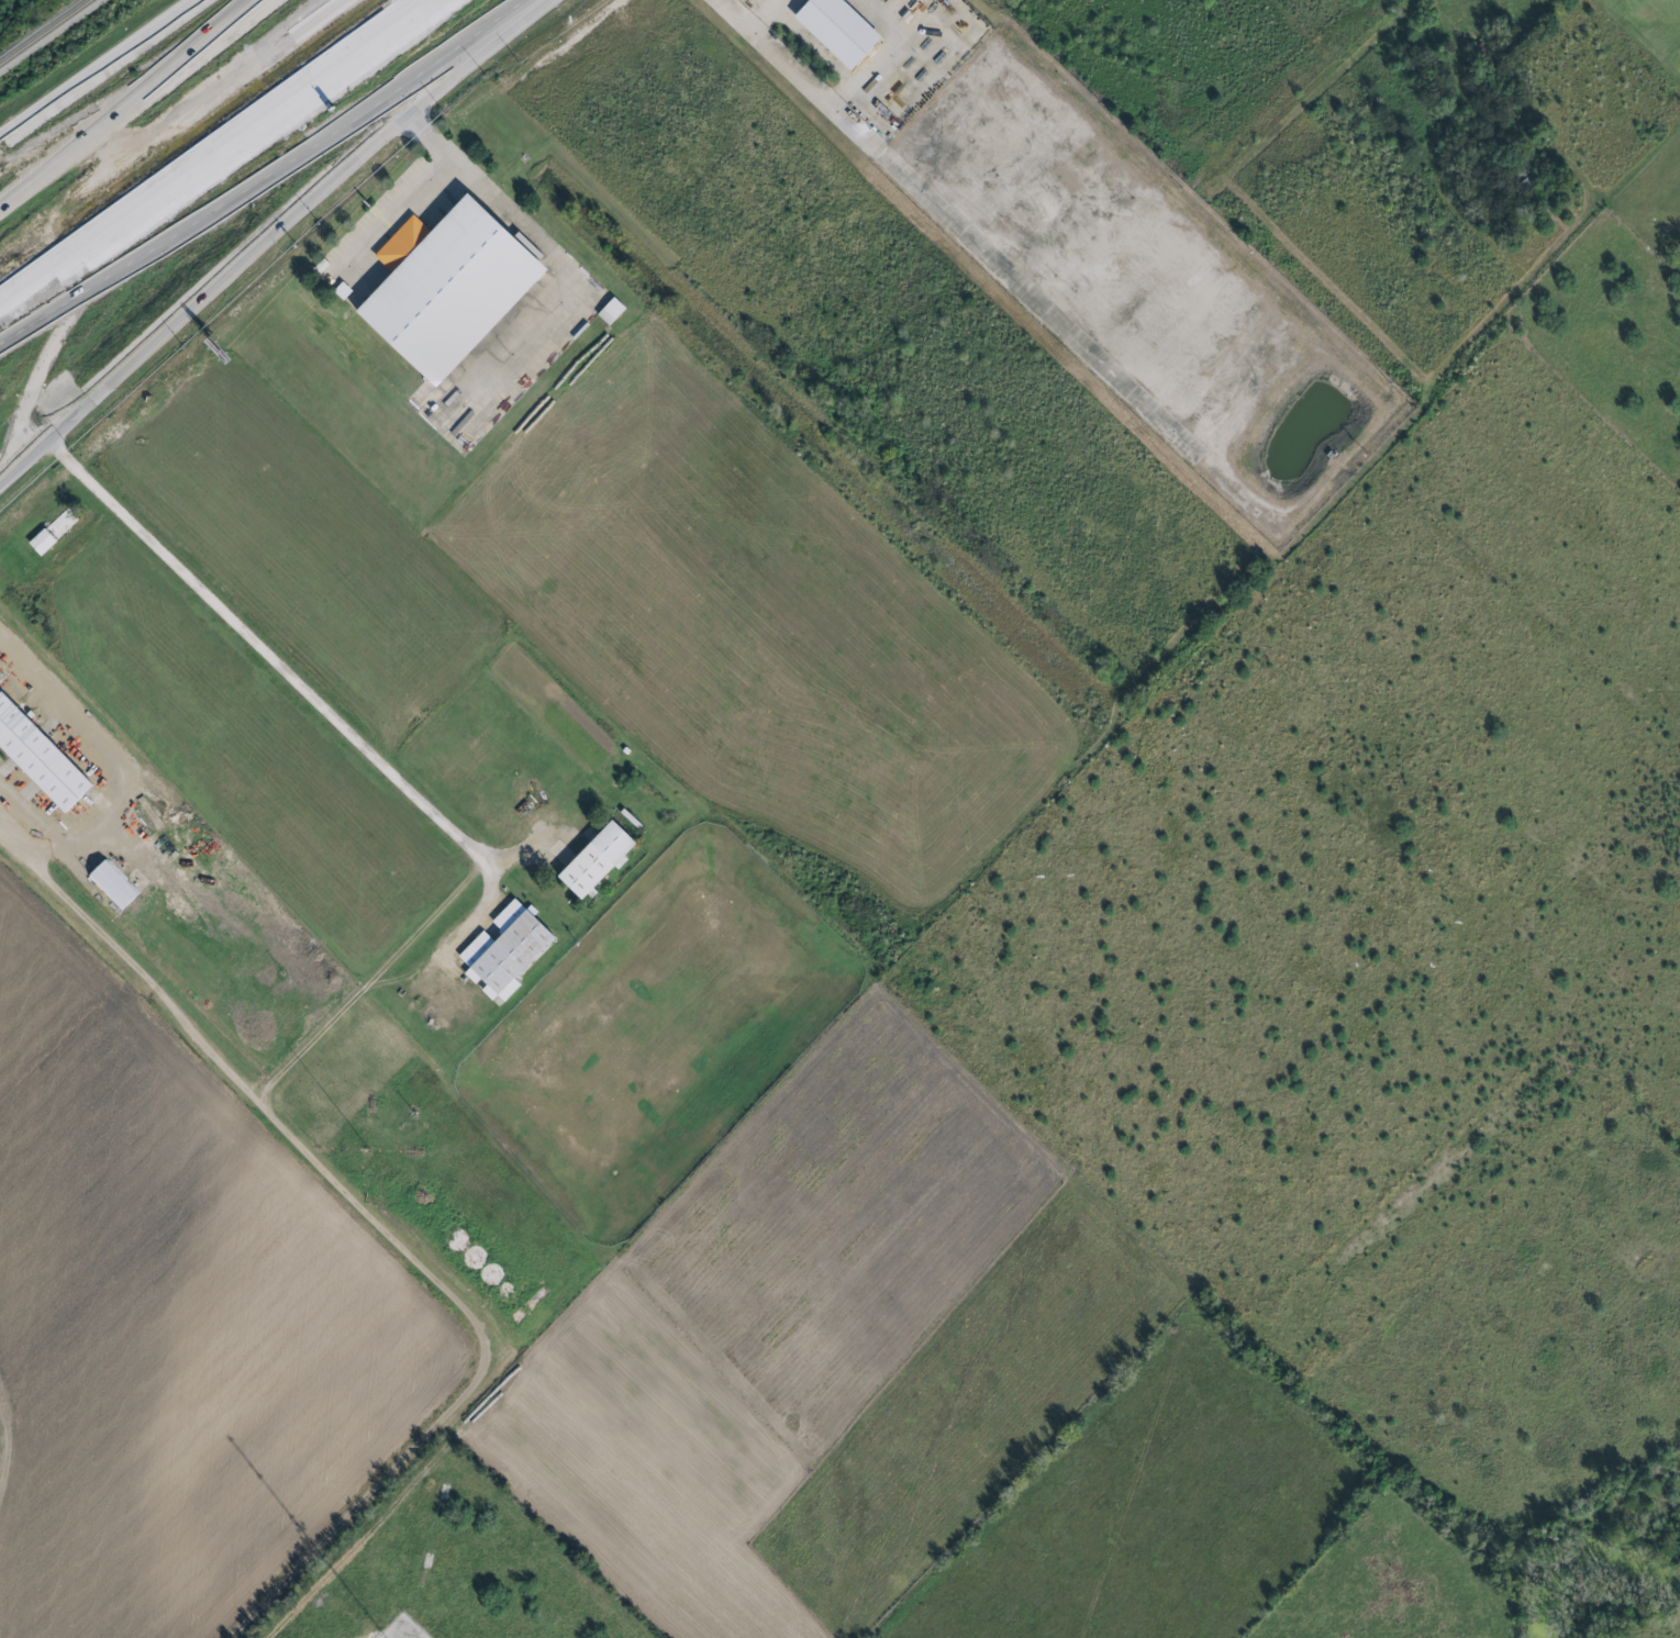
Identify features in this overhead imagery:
road: (294, 20)
building: (843, 30)
railway: (46, 33)
road: (753, 42)
road: (101, 73)
road: (293, 115)
road: (163, 118)
road: (215, 155)
road: (430, 190)
road: (266, 237)
road: (571, 276)
building: (614, 312)
building: (55, 531)
road: (305, 693)
building: (41, 755)
road: (116, 755)
building: (601, 859)
building: (114, 885)
road: (119, 950)
building: (509, 950)

